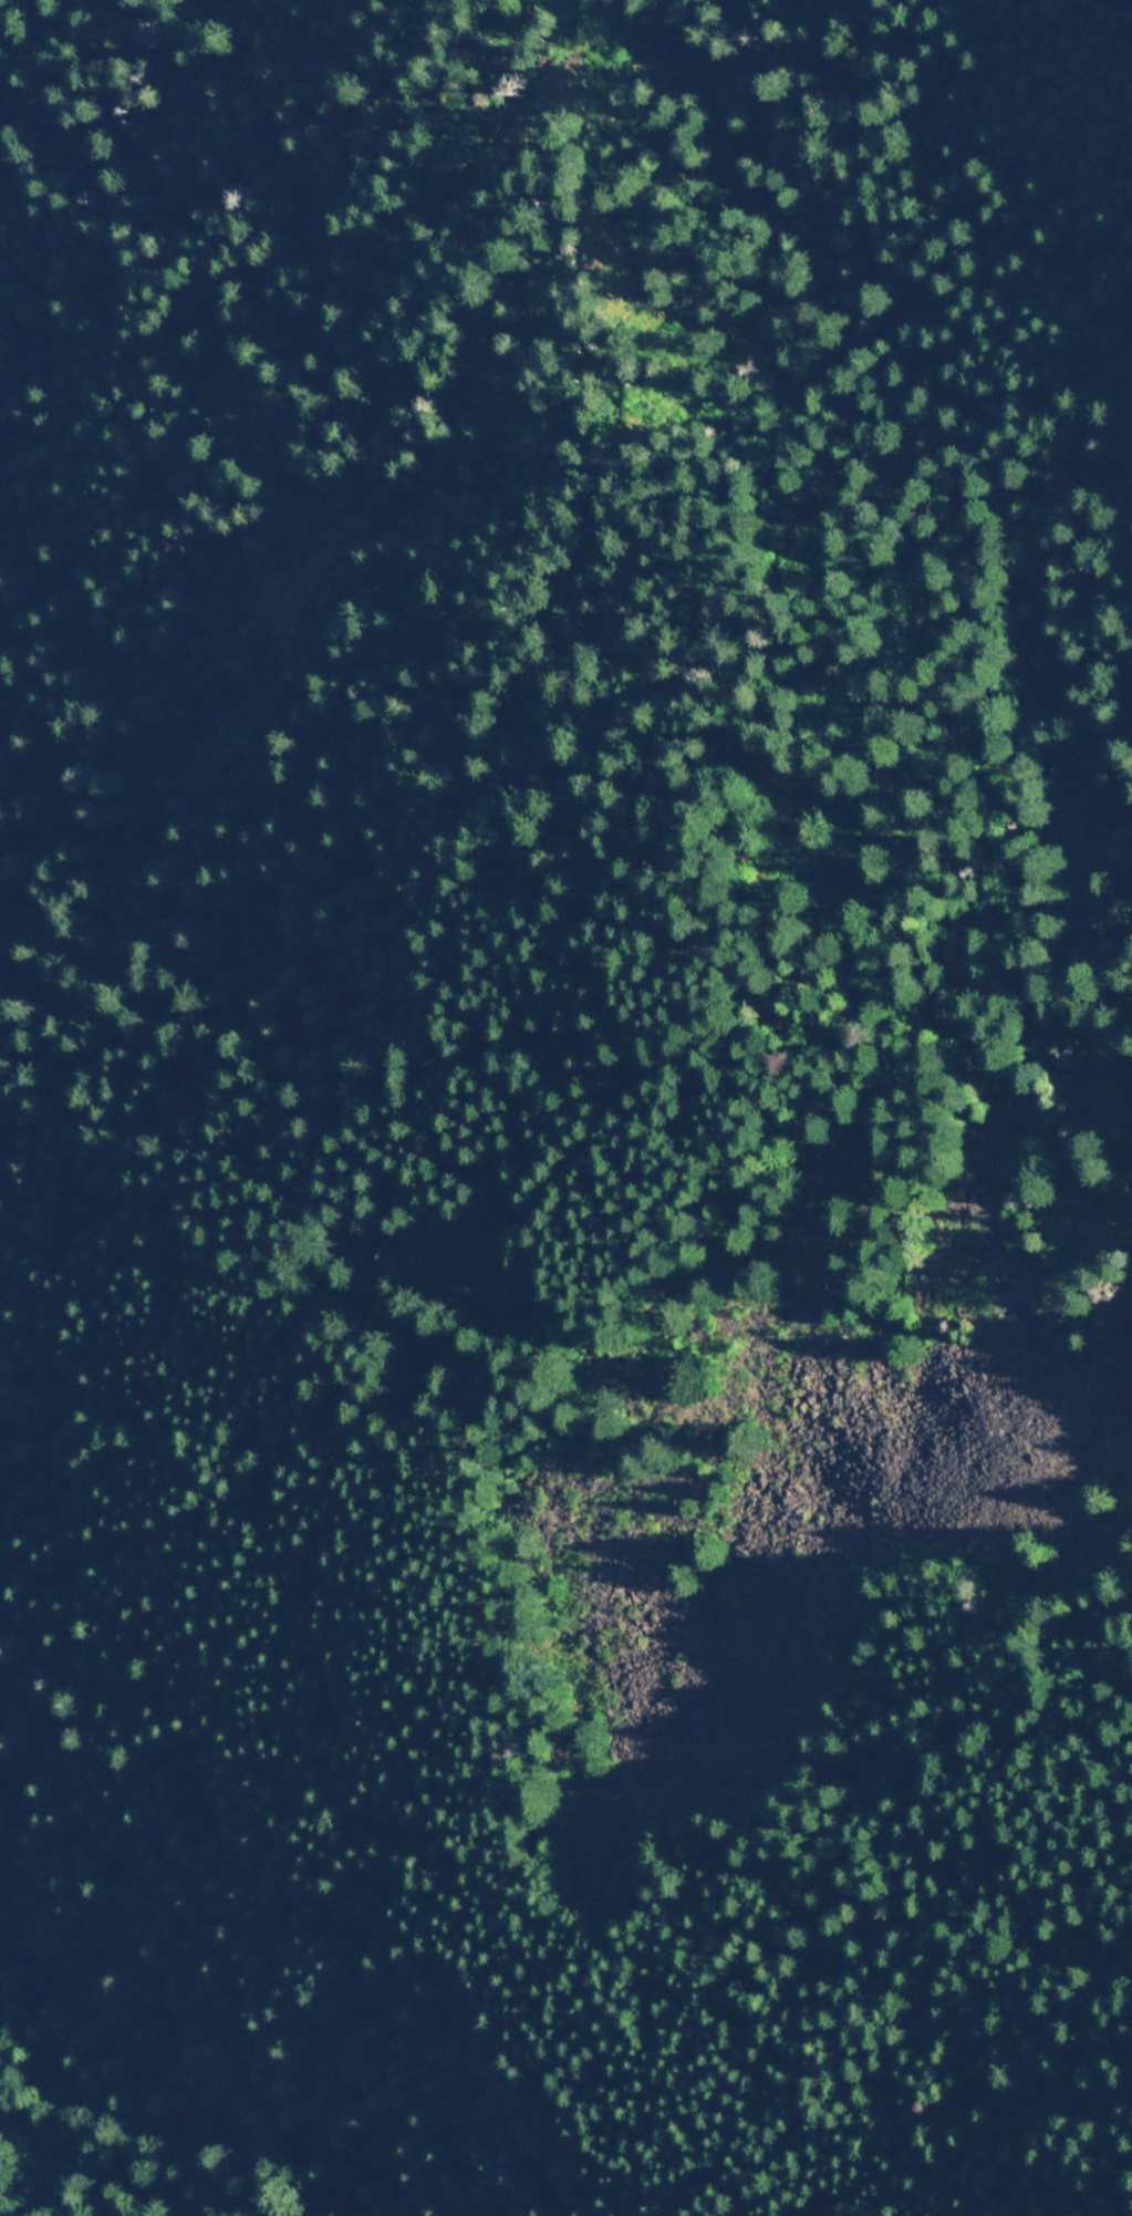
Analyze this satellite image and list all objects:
road: (930, 1970)

